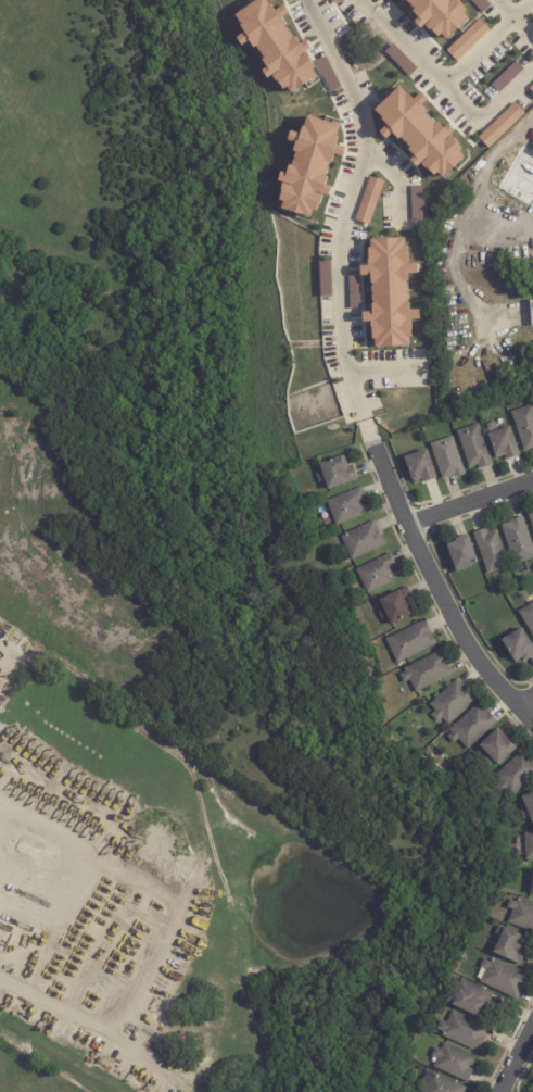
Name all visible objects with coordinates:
road: (516, 18)
building: (467, 40)
road: (487, 40)
building: (276, 45)
building: (328, 74)
road: (447, 84)
building: (531, 88)
building: (500, 125)
building: (420, 133)
building: (532, 152)
building: (309, 166)
road: (396, 176)
building: (369, 200)
building: (416, 203)
road: (346, 204)
road: (462, 216)
building: (526, 271)
building: (325, 278)
building: (389, 292)
building: (10, 299)
building: (354, 303)
building: (532, 310)
road: (385, 369)
building: (524, 426)
road: (376, 437)
building: (504, 444)
building: (474, 448)
building: (447, 460)
building: (420, 467)
building: (337, 474)
road: (472, 501)
building: (346, 506)
building: (531, 518)
building: (363, 541)
building: (519, 541)
building: (492, 552)
building: (462, 554)
building: (377, 574)
road: (445, 593)
building: (397, 607)
building: (528, 618)
building: (410, 642)
building: (519, 648)
building: (427, 673)
building: (453, 702)
road: (529, 702)
building: (472, 728)
building: (498, 750)
building: (515, 776)
building: (528, 809)
building: (529, 846)
building: (532, 883)
building: (532, 892)
building: (521, 914)
road: (165, 927)
building: (510, 944)
building: (504, 977)
building: (470, 997)
building: (464, 1030)
building: (455, 1062)
road: (520, 1066)
building: (440, 1083)
building: (417, 1091)

